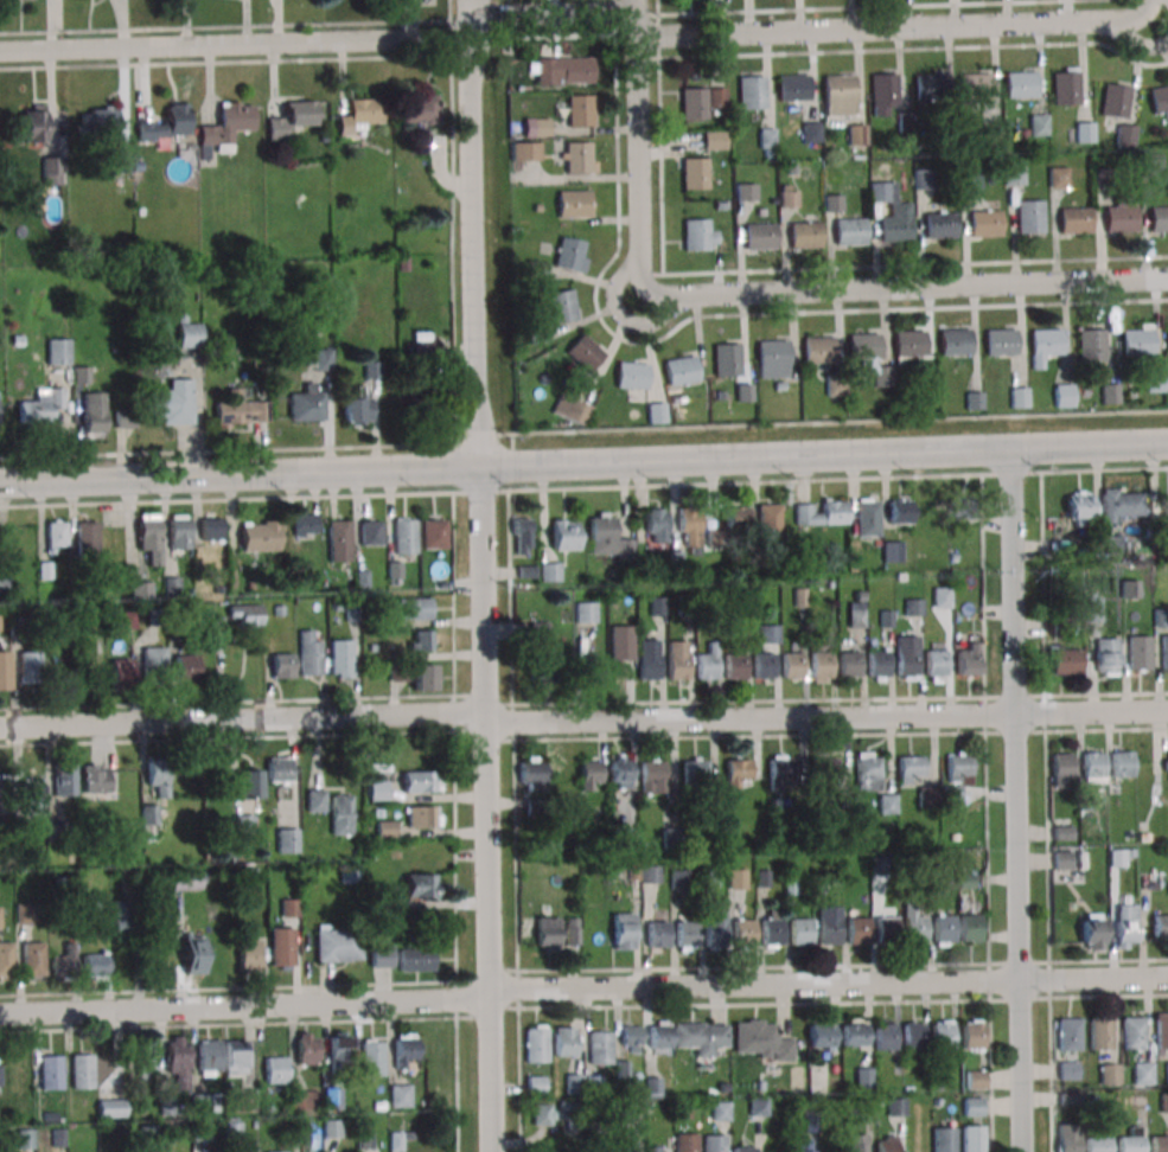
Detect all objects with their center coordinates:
road: (875, 7)
road: (548, 14)
road: (614, 17)
road: (236, 27)
road: (898, 28)
road: (236, 45)
road: (915, 49)
road: (419, 57)
building: (563, 70)
building: (1021, 83)
building: (931, 85)
building: (975, 85)
building: (1066, 85)
building: (793, 87)
building: (838, 87)
building: (752, 92)
building: (885, 94)
building: (701, 101)
building: (1115, 101)
building: (1160, 101)
building: (420, 109)
building: (577, 110)
building: (359, 116)
building: (98, 119)
building: (289, 119)
building: (33, 123)
building: (166, 123)
building: (1039, 124)
building: (225, 127)
building: (537, 127)
building: (1084, 132)
building: (856, 134)
building: (1125, 135)
building: (993, 136)
building: (714, 140)
building: (768, 143)
road: (639, 147)
building: (525, 151)
building: (577, 156)
building: (122, 162)
building: (50, 171)
building: (695, 173)
building: (1015, 175)
building: (970, 177)
building: (1059, 177)
building: (923, 178)
building: (746, 192)
building: (789, 196)
building: (574, 204)
building: (1030, 216)
building: (1119, 218)
building: (1159, 218)
building: (1076, 219)
building: (985, 223)
building: (939, 224)
building: (895, 226)
building: (850, 230)
building: (700, 235)
building: (758, 235)
building: (804, 235)
building: (572, 254)
road: (778, 270)
road: (906, 287)
building: (562, 306)
road: (621, 315)
road: (672, 331)
building: (190, 333)
building: (955, 340)
building: (1001, 340)
building: (1046, 340)
building: (909, 341)
building: (1137, 341)
building: (863, 345)
building: (1091, 345)
building: (422, 348)
building: (818, 348)
building: (58, 351)
building: (586, 352)
building: (772, 352)
building: (319, 358)
building: (727, 359)
building: (372, 370)
building: (682, 370)
building: (632, 375)
building: (1155, 382)
building: (1111, 393)
building: (1064, 396)
building: (1020, 397)
building: (307, 403)
building: (43, 404)
building: (172, 404)
building: (358, 407)
building: (241, 409)
building: (572, 409)
building: (657, 412)
building: (95, 414)
building: (125, 418)
road: (583, 430)
road: (583, 463)
building: (1121, 505)
building: (1079, 507)
building: (900, 511)
building: (822, 513)
building: (931, 514)
building: (736, 516)
building: (868, 517)
building: (768, 520)
building: (304, 525)
building: (656, 525)
building: (211, 527)
building: (689, 529)
building: (179, 532)
building: (371, 533)
building: (434, 533)
building: (57, 535)
building: (564, 535)
building: (260, 536)
building: (406, 536)
building: (522, 536)
building: (85, 537)
building: (149, 537)
building: (608, 538)
building: (338, 540)
building: (1112, 543)
building: (892, 551)
building: (549, 571)
building: (172, 585)
building: (6, 587)
building: (141, 589)
building: (1130, 589)
road: (481, 595)
building: (942, 597)
building: (914, 607)
building: (415, 608)
building: (586, 612)
building: (247, 614)
building: (856, 614)
building: (126, 620)
building: (91, 621)
building: (537, 631)
building: (768, 633)
building: (421, 640)
building: (621, 642)
building: (1140, 652)
building: (1164, 652)
building: (309, 654)
building: (908, 657)
building: (1106, 657)
building: (342, 658)
building: (154, 659)
building: (649, 659)
building: (968, 659)
building: (678, 660)
building: (1067, 661)
building: (708, 663)
building: (850, 664)
building: (282, 665)
building: (765, 665)
building: (793, 665)
building: (880, 665)
building: (937, 665)
building: (736, 666)
building: (822, 666)
building: (31, 667)
building: (186, 667)
building: (541, 668)
building: (4, 670)
building: (591, 671)
building: (121, 674)
building: (426, 677)
road: (583, 717)
road: (1045, 748)
building: (1122, 763)
building: (1166, 763)
building: (1093, 767)
building: (1062, 768)
building: (280, 769)
building: (911, 769)
building: (822, 770)
building: (868, 772)
building: (620, 773)
building: (736, 773)
building: (781, 773)
building: (695, 774)
building: (158, 775)
building: (532, 775)
building: (591, 775)
building: (652, 776)
building: (957, 777)
building: (64, 779)
building: (92, 779)
building: (421, 781)
building: (248, 783)
building: (378, 789)
building: (1, 792)
building: (927, 796)
building: (34, 798)
building: (317, 800)
road: (1016, 801)
building: (887, 804)
building: (342, 814)
building: (423, 817)
building: (149, 819)
building: (244, 824)
building: (385, 830)
building: (1064, 832)
building: (287, 839)
building: (1119, 857)
building: (1066, 859)
building: (633, 871)
building: (347, 873)
building: (650, 873)
building: (678, 878)
building: (736, 878)
building: (708, 879)
building: (189, 881)
building: (420, 885)
building: (24, 914)
building: (0, 916)
building: (120, 916)
building: (715, 923)
building: (829, 924)
building: (914, 926)
building: (1125, 926)
building: (1160, 926)
building: (887, 928)
building: (970, 928)
building: (772, 929)
building: (944, 929)
building: (624, 930)
building: (859, 930)
building: (1092, 930)
building: (557, 932)
building: (800, 932)
building: (657, 934)
building: (743, 934)
building: (687, 935)
building: (338, 945)
building: (268, 949)
building: (193, 955)
building: (381, 955)
building: (6, 959)
building: (31, 959)
building: (416, 960)
building: (64, 961)
building: (95, 966)
road: (582, 986)
road: (517, 988)
building: (1161, 1031)
building: (854, 1032)
building: (1132, 1032)
building: (942, 1033)
building: (1068, 1033)
building: (1099, 1033)
building: (822, 1035)
building: (885, 1035)
building: (913, 1035)
building: (972, 1035)
building: (659, 1036)
building: (631, 1038)
building: (701, 1039)
building: (760, 1039)
building: (564, 1042)
building: (536, 1044)
building: (339, 1047)
building: (600, 1047)
building: (306, 1049)
building: (407, 1051)
building: (236, 1056)
building: (146, 1057)
building: (209, 1057)
building: (372, 1057)
building: (178, 1061)
building: (83, 1070)
building: (276, 1070)
building: (1067, 1070)
building: (51, 1071)
building: (1166, 1071)
building: (1109, 1073)
building: (1142, 1073)
building: (863, 1079)
building: (976, 1079)
road: (518, 1080)
building: (0, 1082)
building: (536, 1084)
building: (652, 1086)
building: (400, 1094)
building: (304, 1100)
building: (1163, 1102)
building: (248, 1103)
building: (896, 1106)
building: (974, 1106)
building: (111, 1107)
building: (548, 1113)
building: (234, 1128)
building: (332, 1128)
building: (202, 1131)
building: (25, 1139)
building: (944, 1139)
building: (972, 1139)
building: (687, 1143)
building: (715, 1143)
building: (1068, 1143)
building: (802, 1144)
building: (887, 1144)
building: (1097, 1144)
building: (1130, 1144)
building: (1160, 1144)
building: (627, 1148)
building: (658, 1148)
building: (743, 1148)
building: (276, 1151)

